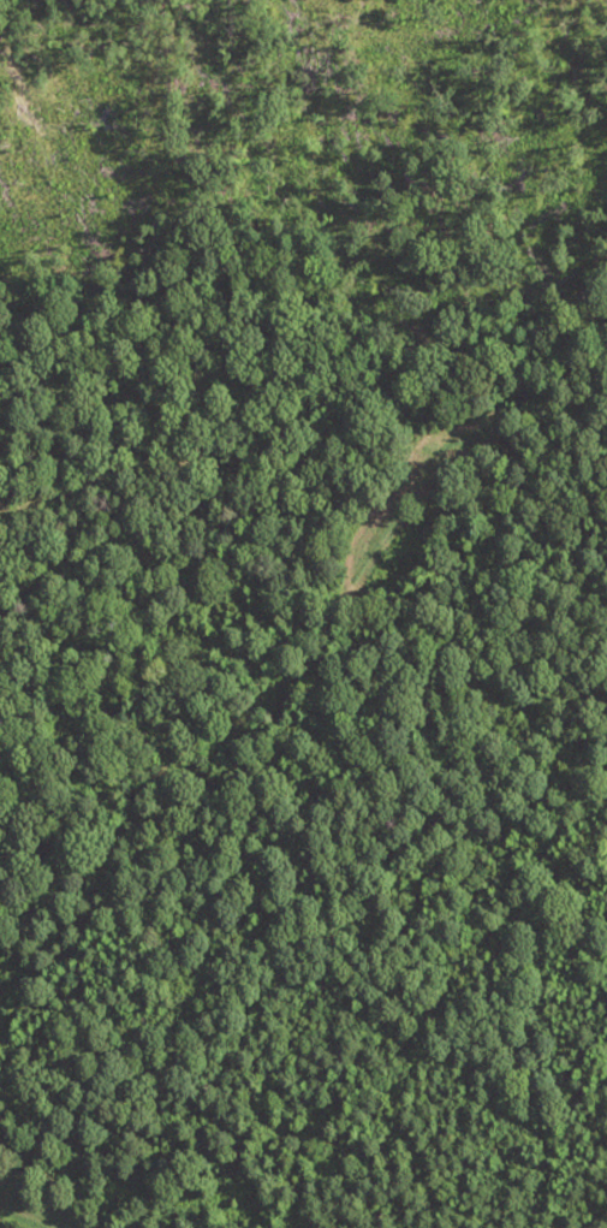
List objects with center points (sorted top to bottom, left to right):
road: (139, 1180)

